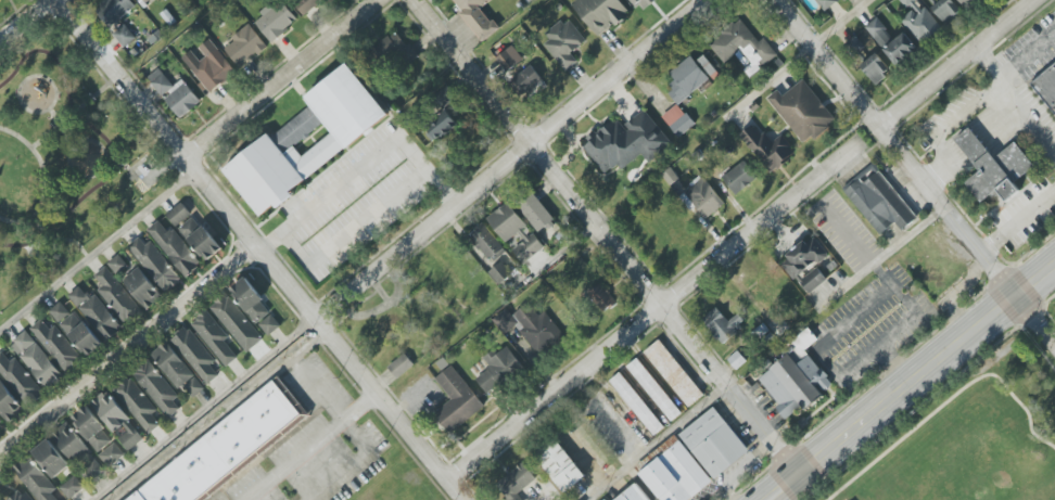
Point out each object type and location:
building: (143, 0)
building: (844, 0)
building: (964, 2)
building: (640, 3)
building: (827, 3)
building: (306, 4)
building: (114, 10)
building: (946, 11)
building: (601, 13)
building: (476, 16)
road: (23, 20)
building: (276, 20)
building: (920, 21)
road: (841, 22)
building: (124, 36)
building: (891, 41)
building: (564, 42)
building: (245, 47)
building: (742, 47)
building: (395, 49)
road: (1030, 51)
building: (508, 60)
road: (996, 61)
road: (828, 62)
road: (954, 62)
building: (773, 64)
building: (208, 66)
building: (876, 68)
building: (690, 77)
road: (283, 79)
road: (770, 80)
building: (529, 81)
building: (1045, 87)
road: (18, 89)
building: (175, 93)
building: (444, 98)
road: (977, 101)
road: (84, 102)
building: (802, 111)
building: (677, 120)
road: (66, 125)
building: (440, 126)
road: (66, 138)
building: (307, 140)
road: (105, 141)
road: (37, 142)
building: (626, 142)
building: (767, 148)
park: (63, 159)
road: (418, 159)
road: (509, 159)
road: (116, 162)
building: (992, 167)
road: (82, 177)
building: (739, 178)
road: (441, 187)
building: (703, 197)
road: (42, 200)
building: (879, 203)
road: (948, 206)
building: (535, 211)
road: (1019, 220)
building: (194, 232)
building: (516, 232)
road: (609, 232)
road: (846, 233)
road: (56, 239)
building: (487, 242)
road: (98, 248)
building: (175, 248)
road: (263, 249)
road: (555, 255)
road: (885, 255)
building: (154, 264)
building: (805, 264)
building: (118, 265)
building: (827, 266)
building: (500, 273)
road: (1035, 275)
building: (142, 287)
building: (117, 296)
building: (602, 297)
road: (874, 299)
building: (256, 307)
road: (653, 310)
building: (94, 311)
road: (1035, 316)
building: (237, 322)
building: (722, 324)
building: (531, 326)
building: (75, 329)
building: (215, 337)
road: (126, 343)
building: (56, 345)
building: (195, 355)
building: (37, 360)
building: (401, 366)
building: (177, 369)
building: (498, 369)
building: (673, 373)
building: (20, 380)
building: (795, 384)
building: (157, 388)
road: (317, 388)
building: (653, 389)
road: (889, 396)
building: (456, 401)
building: (9, 403)
building: (138, 403)
building: (636, 403)
road: (203, 408)
road: (220, 414)
building: (117, 420)
building: (1, 426)
building: (92, 428)
road: (659, 439)
building: (714, 443)
road: (310, 445)
building: (227, 447)
building: (78, 452)
building: (111, 454)
building: (51, 458)
road: (356, 463)
building: (561, 466)
building: (675, 474)
building: (36, 479)
building: (517, 480)
building: (73, 487)
building: (633, 493)
building: (21, 496)
building: (605, 499)

